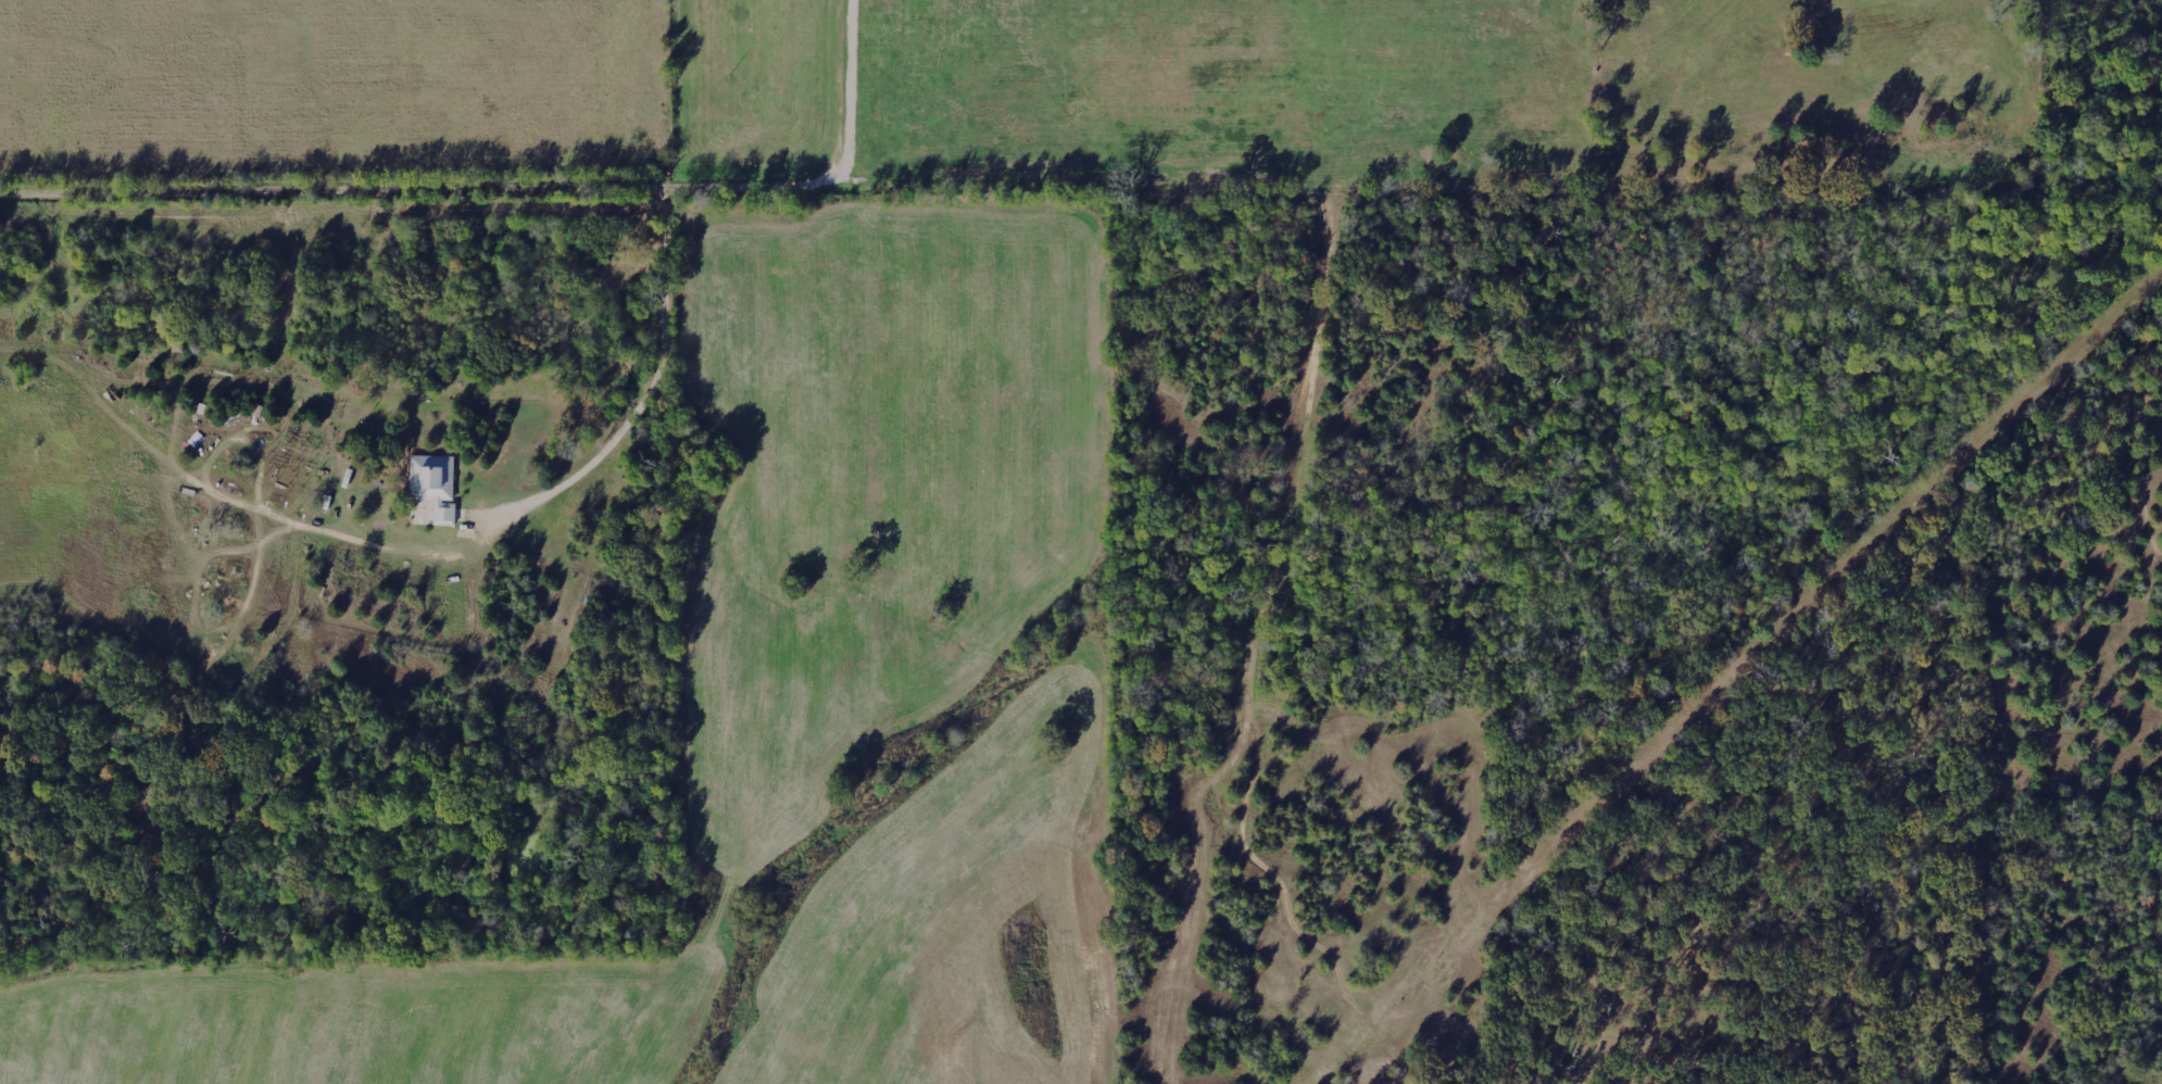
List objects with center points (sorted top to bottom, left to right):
building: (437, 486)

